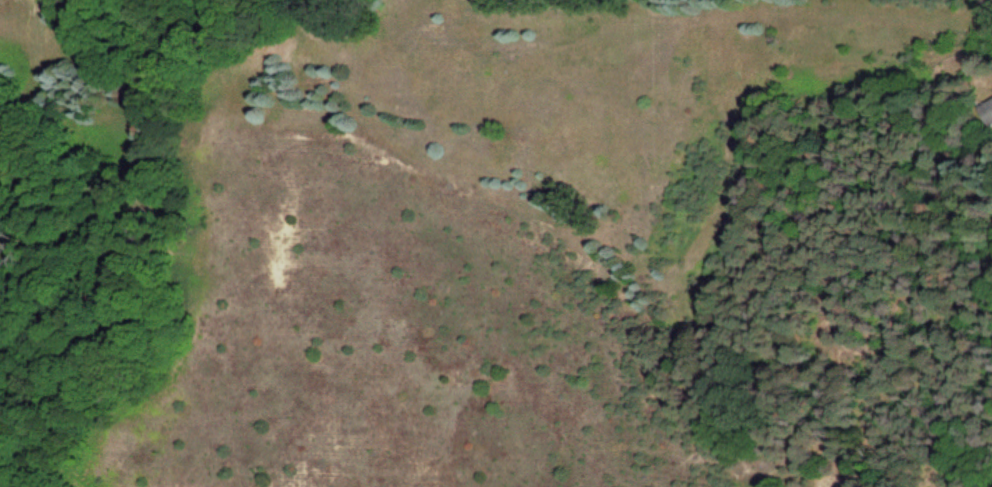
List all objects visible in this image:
building: (986, 111)

